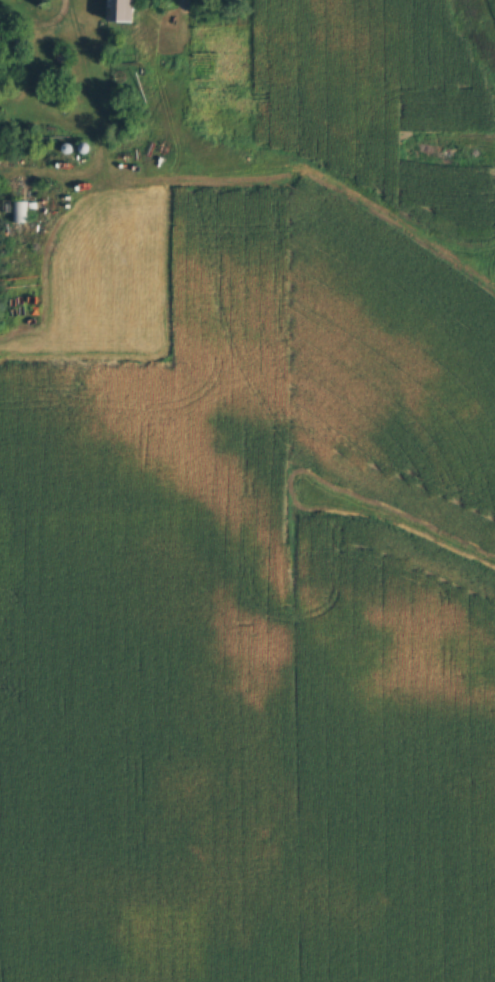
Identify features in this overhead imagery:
building: (122, 11)
road: (47, 22)
building: (20, 212)

